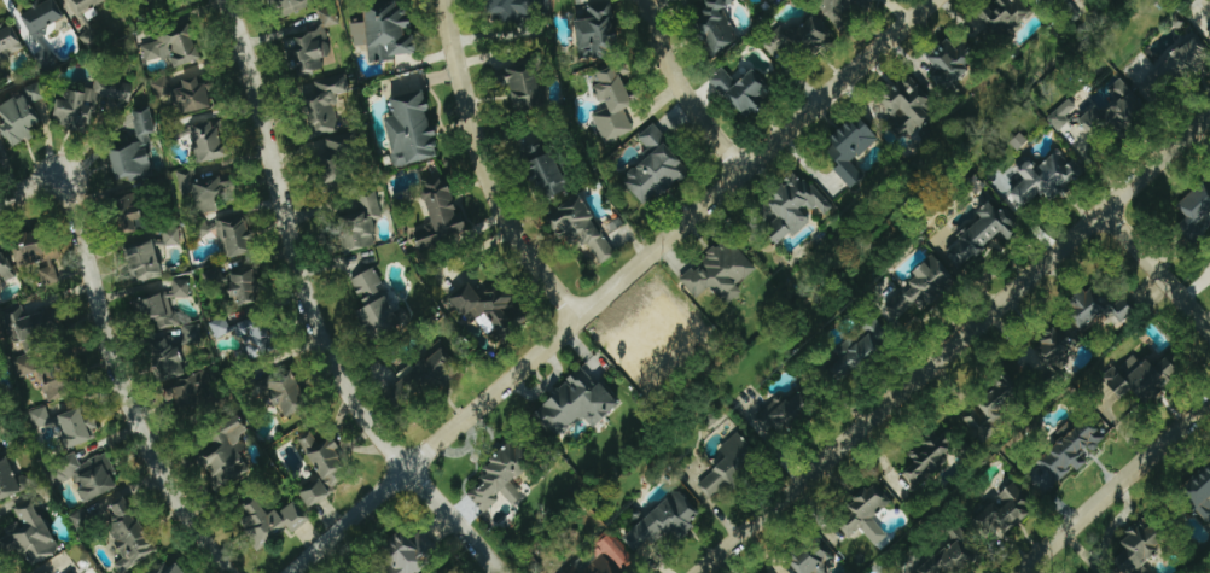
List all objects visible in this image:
building: (1030, 0)
building: (87, 5)
building: (293, 6)
building: (850, 7)
building: (513, 10)
building: (1006, 16)
building: (43, 18)
building: (717, 23)
building: (386, 33)
building: (599, 34)
building: (314, 43)
building: (8, 46)
building: (173, 48)
building: (954, 63)
building: (1174, 71)
building: (525, 84)
road: (690, 88)
building: (744, 90)
building: (186, 94)
building: (327, 103)
building: (91, 104)
building: (615, 106)
building: (912, 107)
building: (1115, 110)
building: (24, 115)
building: (1061, 116)
building: (413, 130)
building: (209, 141)
building: (1020, 142)
building: (136, 148)
building: (853, 150)
building: (0, 162)
road: (491, 166)
building: (546, 168)
building: (657, 169)
building: (1048, 177)
building: (205, 191)
building: (796, 209)
building: (1196, 212)
building: (134, 214)
building: (443, 221)
building: (361, 223)
building: (582, 229)
building: (235, 235)
building: (982, 235)
building: (173, 238)
building: (39, 256)
building: (145, 261)
building: (6, 267)
building: (721, 273)
road: (1156, 274)
building: (246, 286)
road: (610, 286)
building: (920, 292)
building: (0, 304)
building: (489, 305)
building: (1103, 305)
building: (379, 306)
road: (324, 310)
building: (173, 314)
building: (221, 328)
building: (39, 329)
building: (256, 337)
road: (959, 346)
building: (861, 352)
road: (123, 356)
building: (1049, 358)
building: (425, 376)
building: (1142, 378)
building: (45, 379)
building: (182, 380)
building: (0, 392)
building: (289, 394)
building: (578, 404)
building: (1006, 408)
building: (786, 416)
building: (42, 417)
building: (76, 428)
building: (1069, 452)
building: (229, 455)
building: (930, 458)
building: (326, 460)
building: (732, 466)
building: (7, 475)
building: (87, 475)
building: (504, 478)
road: (1116, 486)
building: (316, 493)
building: (1202, 498)
building: (1007, 511)
building: (290, 513)
building: (866, 515)
building: (262, 521)
building: (664, 525)
building: (33, 534)
building: (130, 534)
building: (1141, 546)
building: (412, 555)
building: (952, 556)
building: (604, 559)
building: (819, 562)
building: (169, 569)

